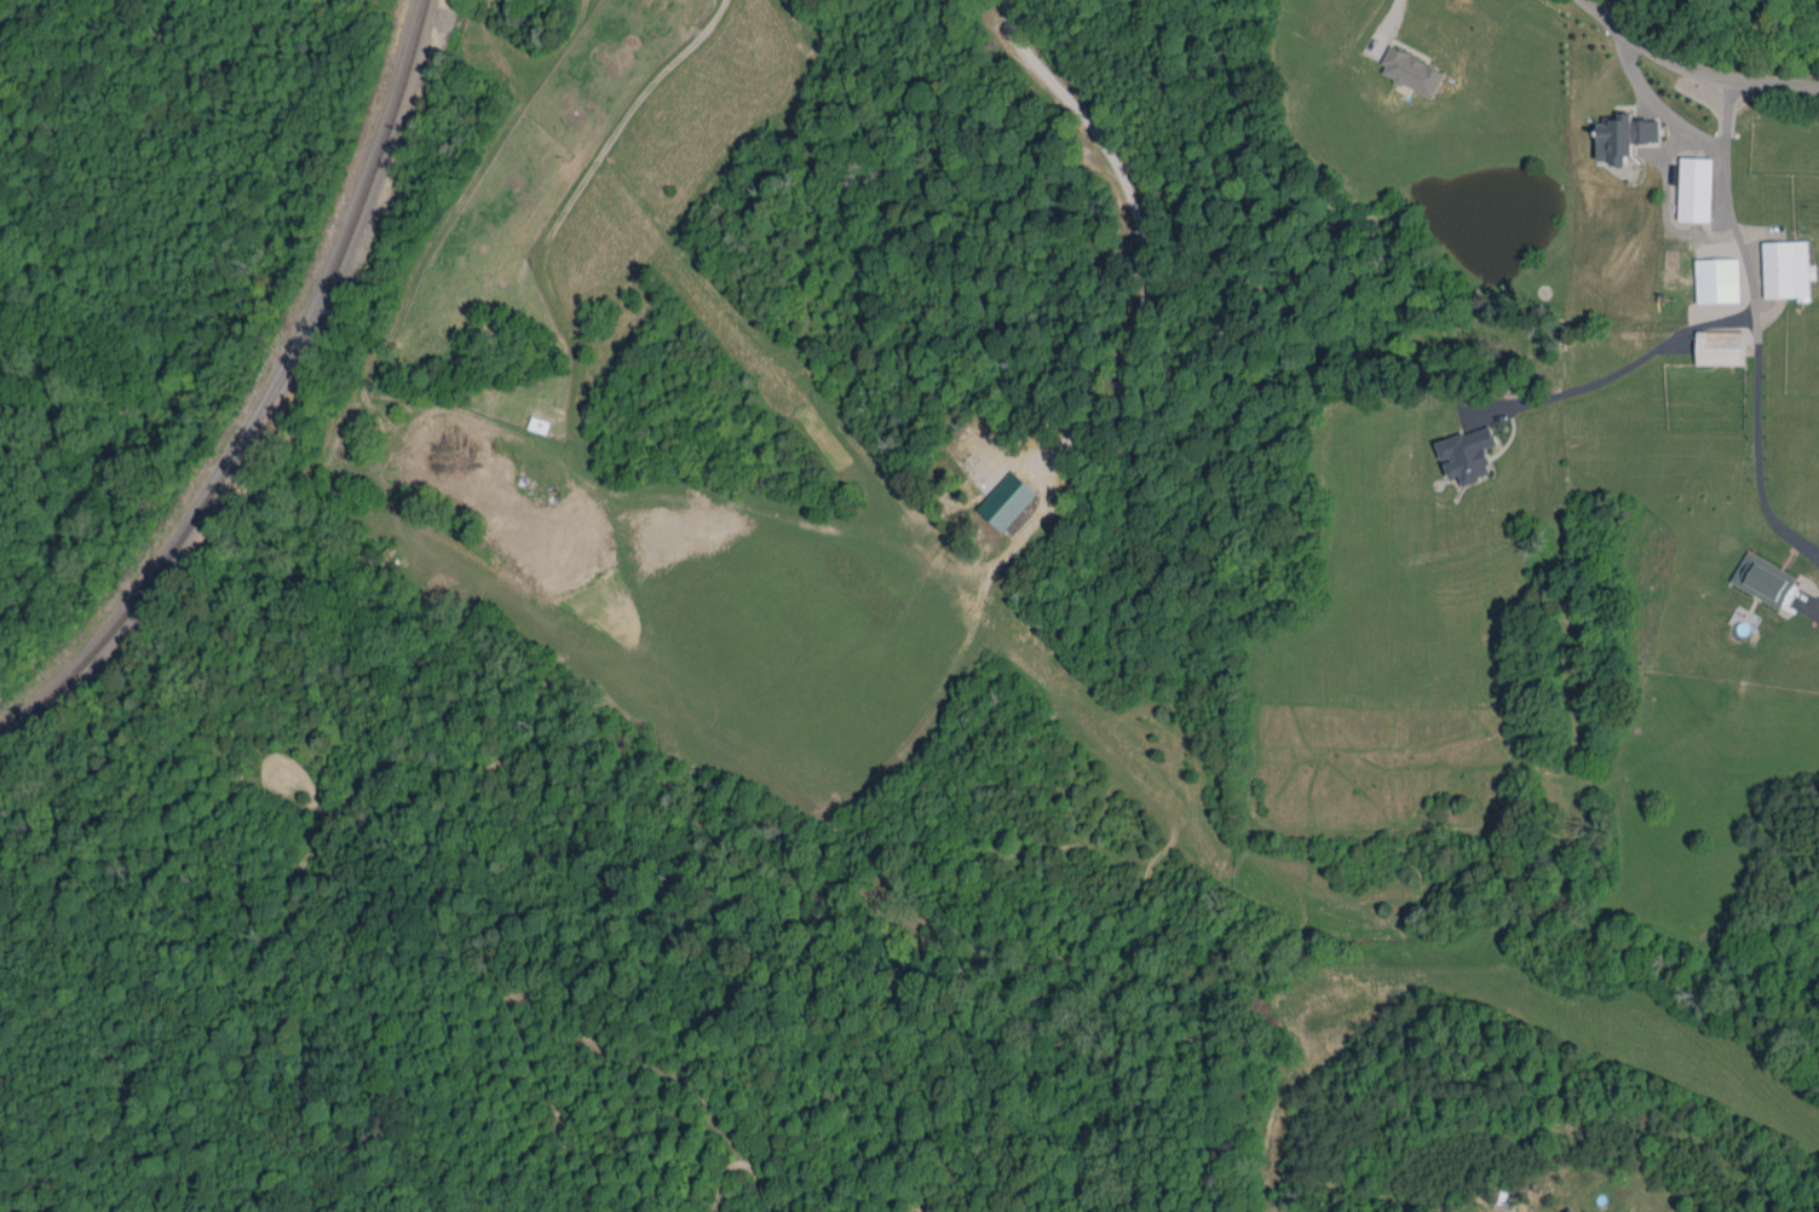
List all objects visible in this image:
road: (1387, 18)
road: (1699, 63)
building: (1412, 71)
road: (1651, 97)
building: (1624, 137)
building: (1696, 189)
road: (1133, 226)
building: (1788, 270)
building: (1717, 279)
road: (1748, 314)
building: (1720, 347)
railway: (266, 400)
road: (1755, 449)
building: (1468, 454)
building: (1007, 501)
building: (1763, 578)
road: (1811, 610)
building: (1572, 1210)

